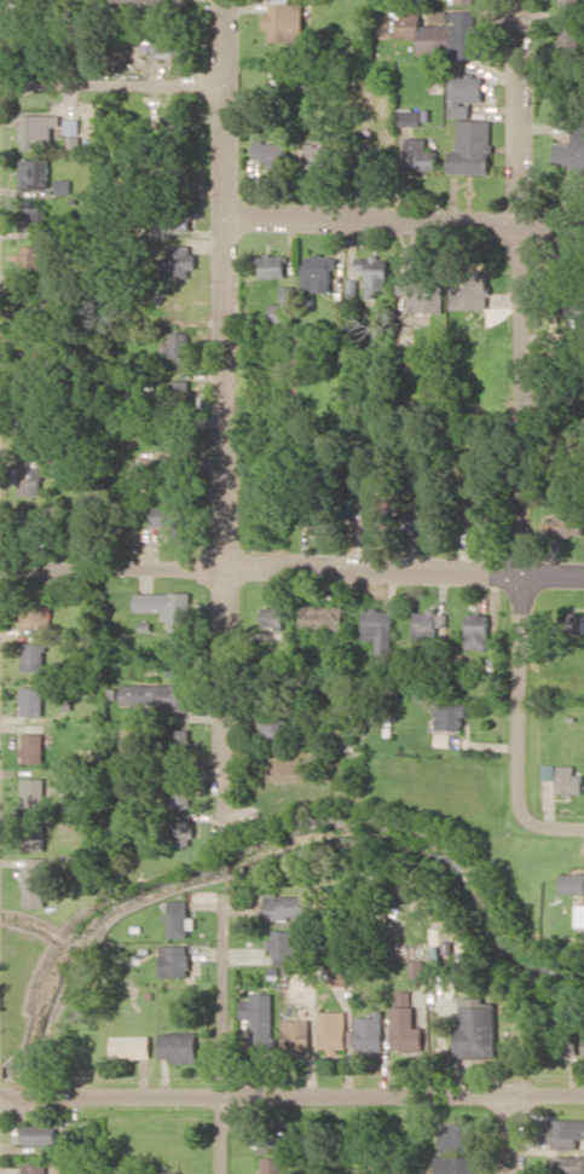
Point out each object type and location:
building: (467, 1)
building: (149, 2)
building: (571, 7)
building: (284, 22)
building: (444, 33)
building: (569, 36)
building: (167, 44)
road: (114, 87)
building: (463, 92)
building: (407, 117)
building: (173, 126)
building: (36, 128)
building: (472, 148)
building: (270, 151)
building: (319, 154)
building: (418, 154)
building: (569, 155)
building: (375, 157)
building: (39, 177)
building: (173, 216)
building: (31, 218)
road: (405, 221)
building: (35, 261)
building: (178, 261)
building: (273, 266)
building: (318, 272)
building: (374, 273)
building: (422, 291)
building: (469, 291)
building: (278, 312)
road: (521, 407)
road: (225, 409)
building: (30, 435)
building: (33, 476)
building: (368, 520)
building: (172, 521)
building: (423, 522)
building: (481, 524)
building: (31, 525)
building: (563, 526)
road: (291, 569)
building: (167, 607)
building: (36, 612)
building: (273, 615)
building: (324, 617)
building: (428, 624)
building: (571, 624)
building: (378, 628)
building: (476, 630)
building: (34, 655)
building: (177, 658)
building: (156, 695)
building: (31, 700)
building: (450, 716)
building: (273, 719)
building: (33, 747)
building: (569, 780)
building: (181, 787)
building: (33, 792)
road: (551, 825)
building: (181, 832)
building: (35, 835)
road: (222, 866)
building: (34, 881)
building: (573, 883)
building: (283, 906)
building: (579, 915)
building: (177, 918)
building: (282, 945)
building: (173, 960)
building: (416, 973)
building: (337, 975)
road: (225, 1006)
building: (258, 1016)
building: (404, 1023)
building: (475, 1028)
building: (331, 1030)
building: (368, 1033)
building: (295, 1035)
building: (560, 1040)
building: (583, 1042)
building: (129, 1046)
building: (175, 1046)
road: (405, 1098)
road: (114, 1099)
building: (566, 1133)
building: (39, 1134)
road: (227, 1135)
road: (510, 1135)
building: (455, 1137)
building: (270, 1141)
building: (451, 1164)
building: (566, 1164)
building: (271, 1166)
building: (35, 1168)
building: (166, 1173)

